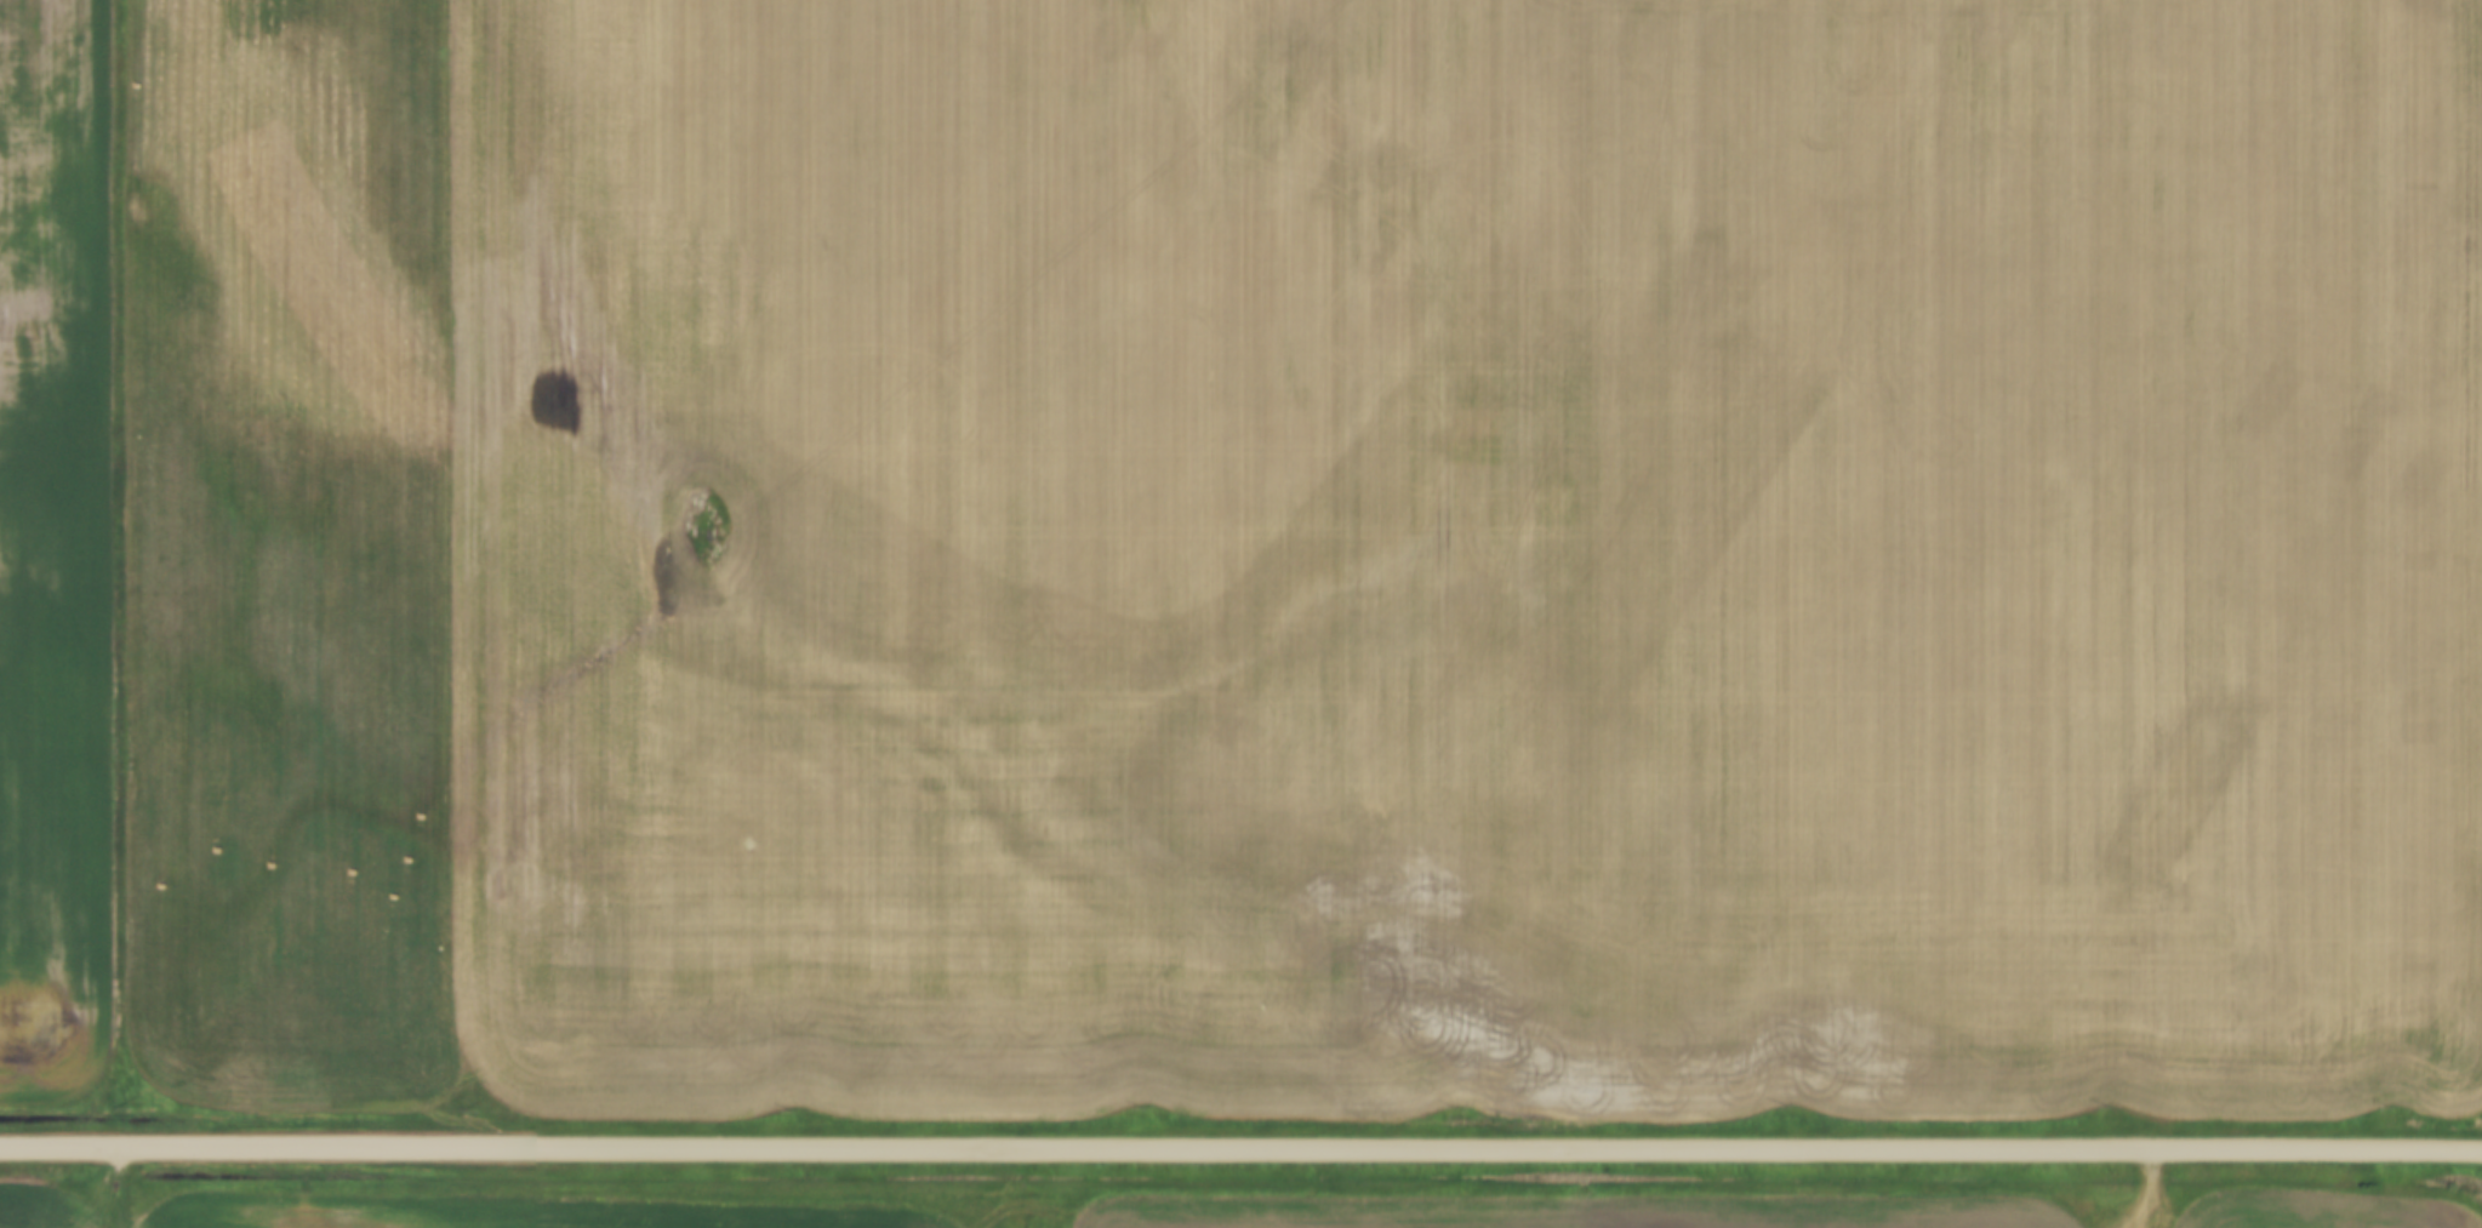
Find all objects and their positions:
road: (1240, 1149)

